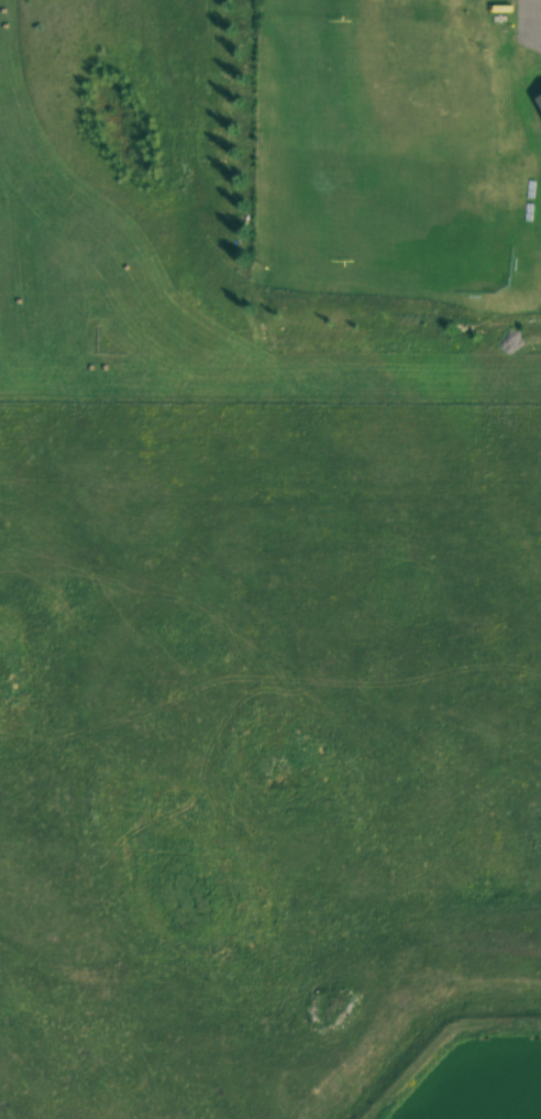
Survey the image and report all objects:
street lamp: (515, 24)
park: (357, 141)

